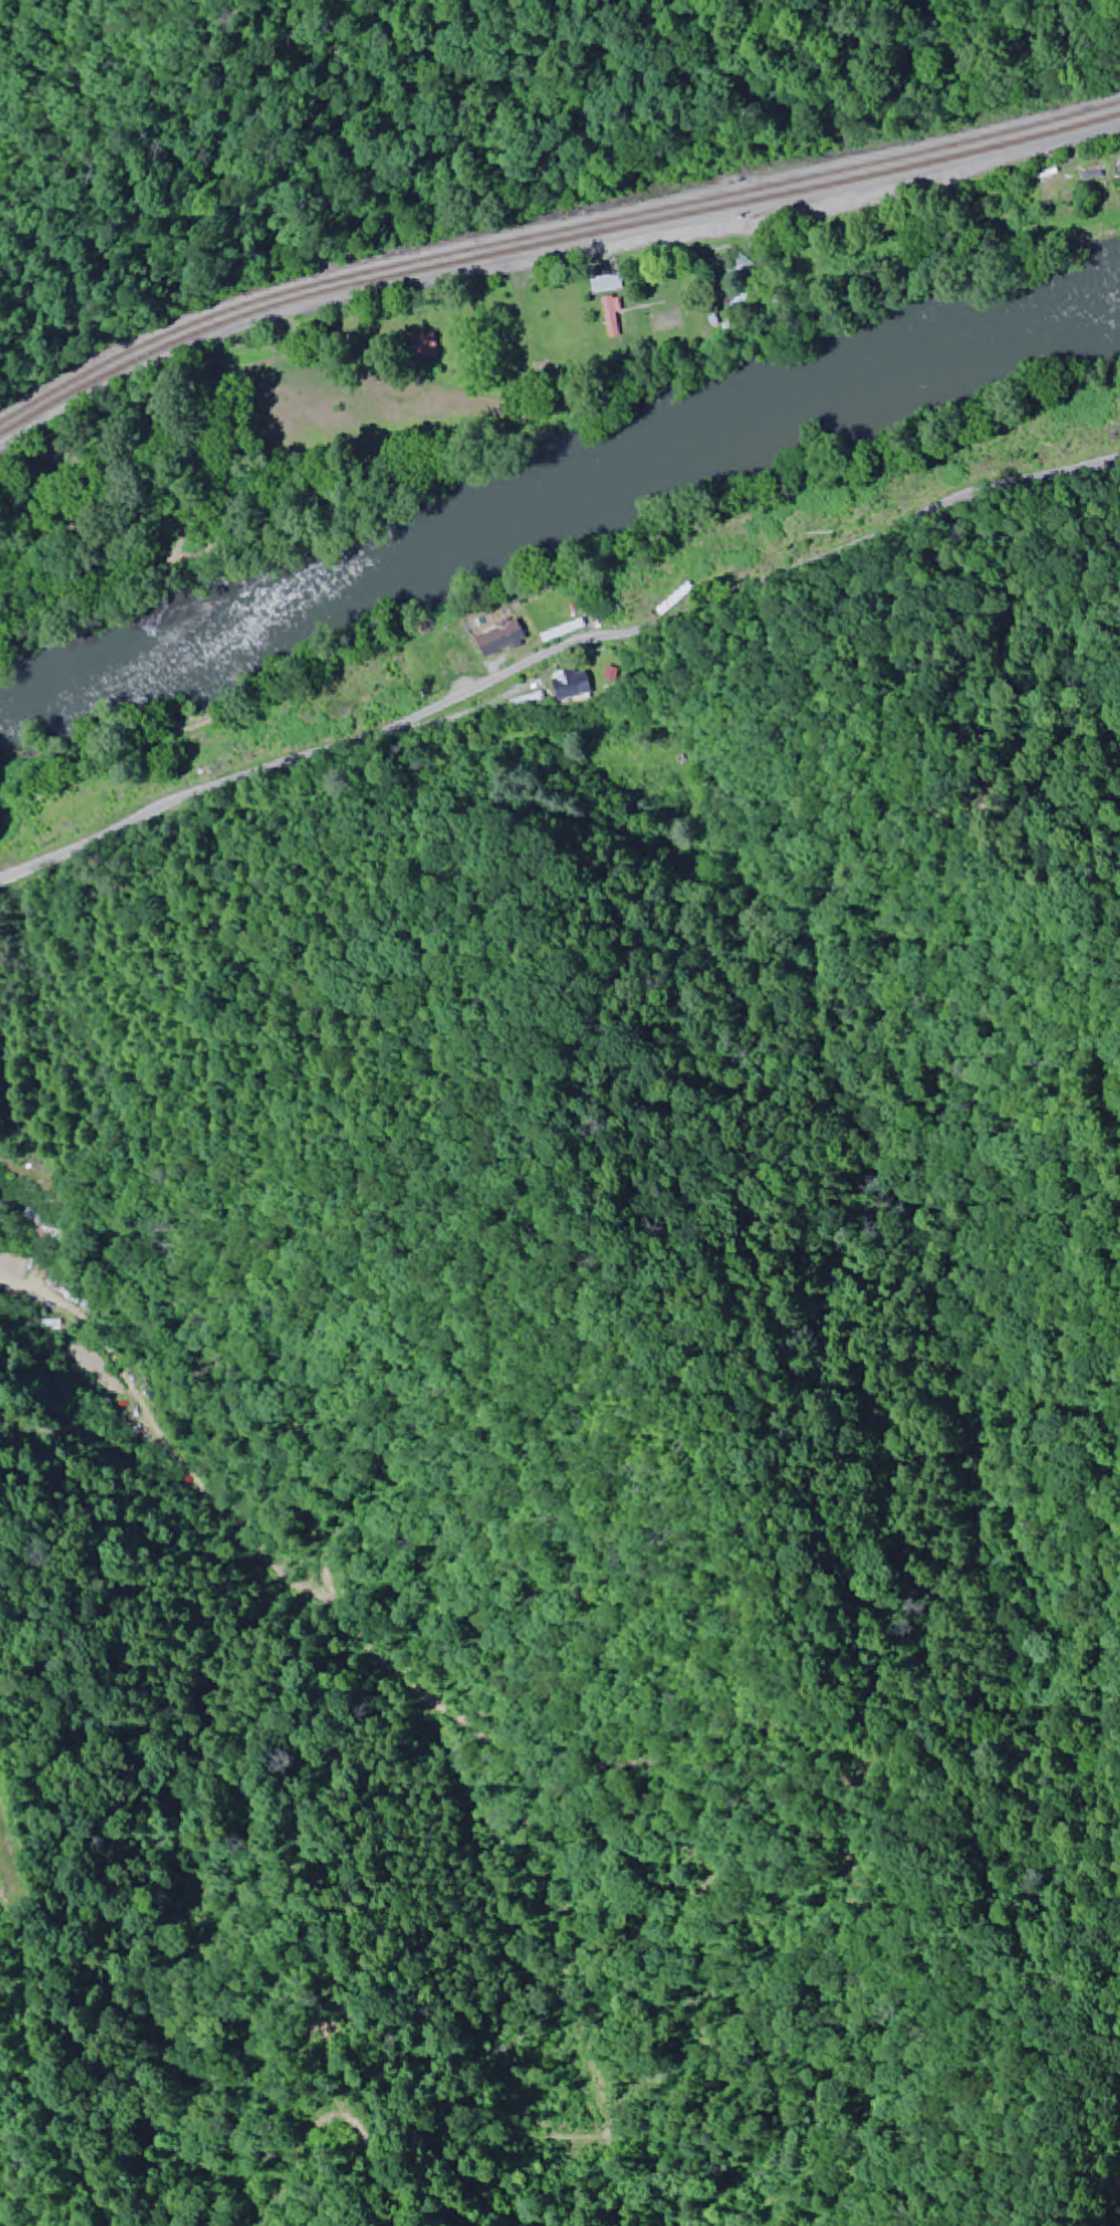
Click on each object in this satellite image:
railway: (549, 234)
road: (547, 257)
building: (604, 286)
building: (605, 319)
building: (418, 349)
river: (559, 501)
building: (575, 610)
road: (561, 633)
building: (497, 639)
building: (570, 685)
road: (171, 944)

